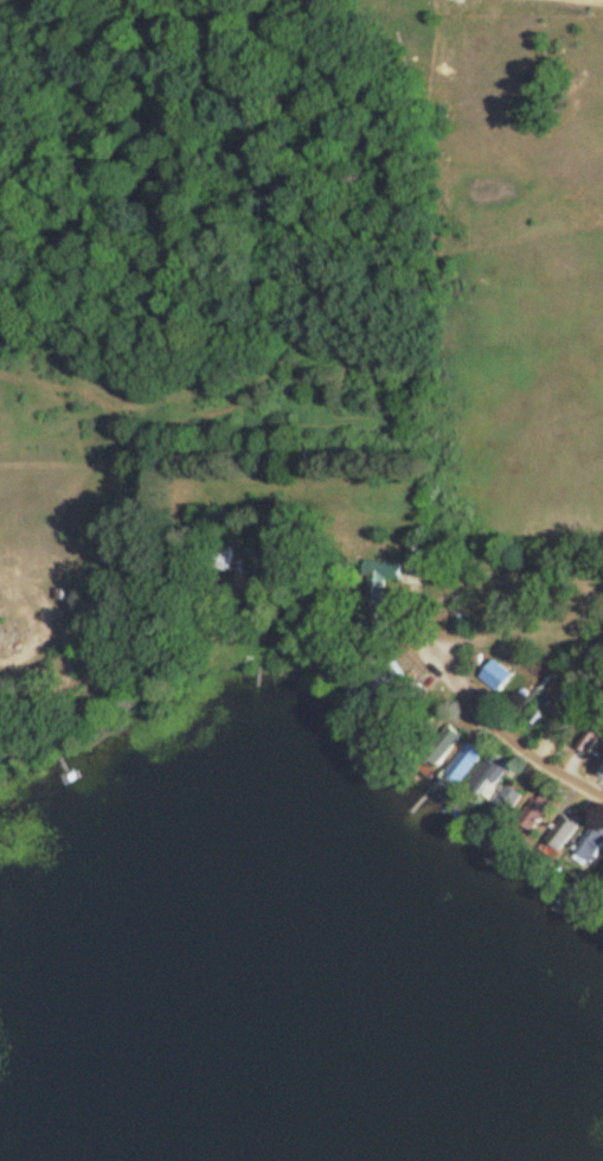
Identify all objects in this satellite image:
building: (416, 557)
building: (286, 570)
building: (392, 573)
building: (499, 677)
road: (489, 720)
building: (450, 745)
building: (599, 766)
building: (470, 767)
building: (488, 782)

